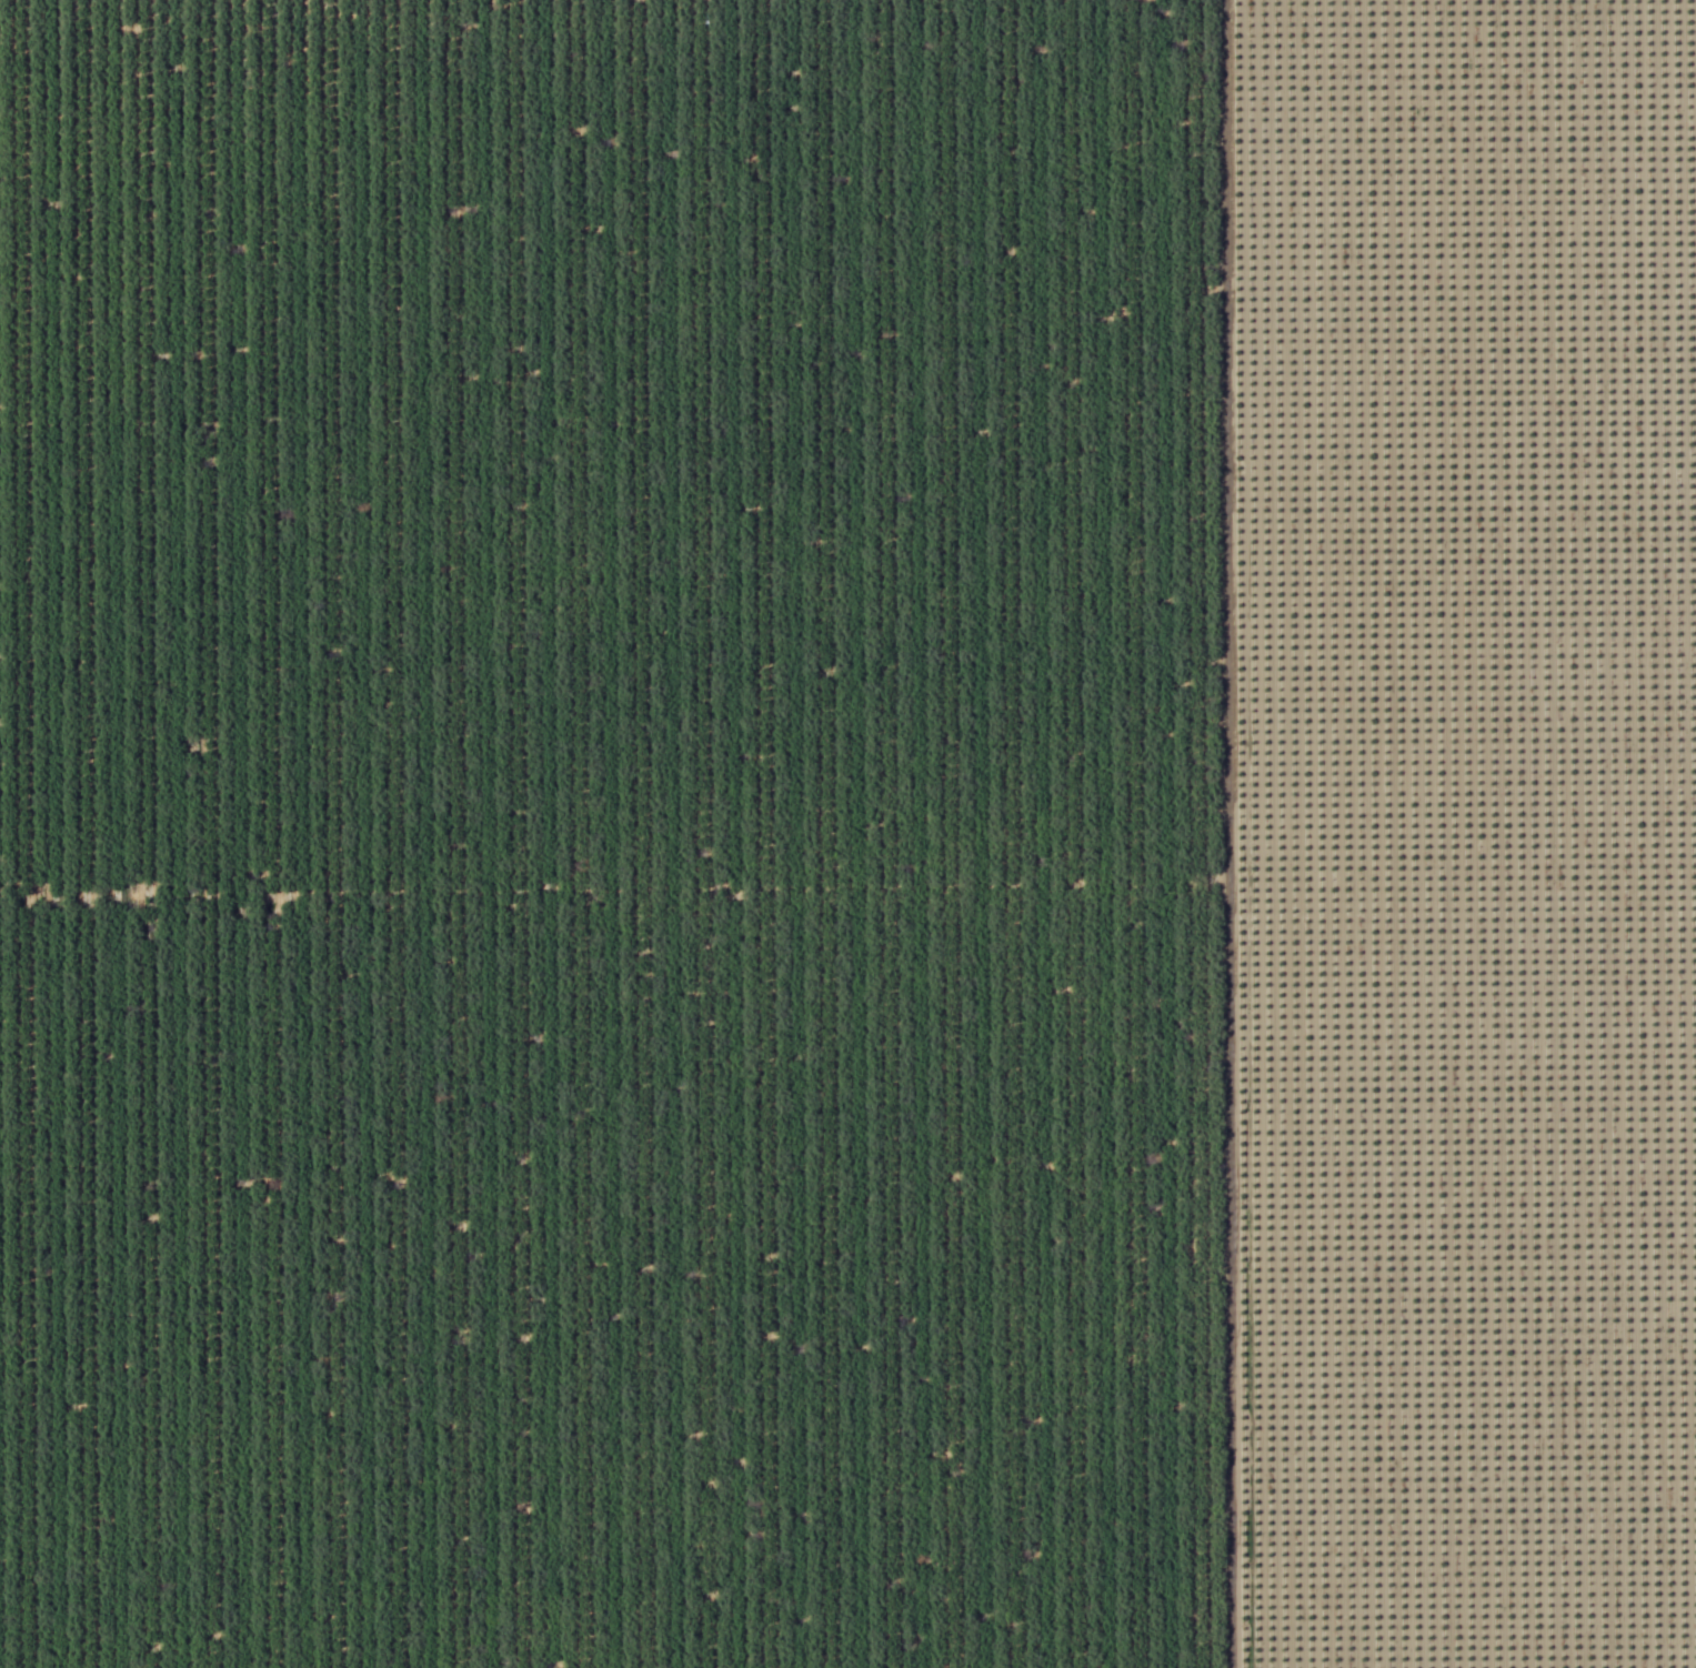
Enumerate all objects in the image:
road: (1244, 834)

